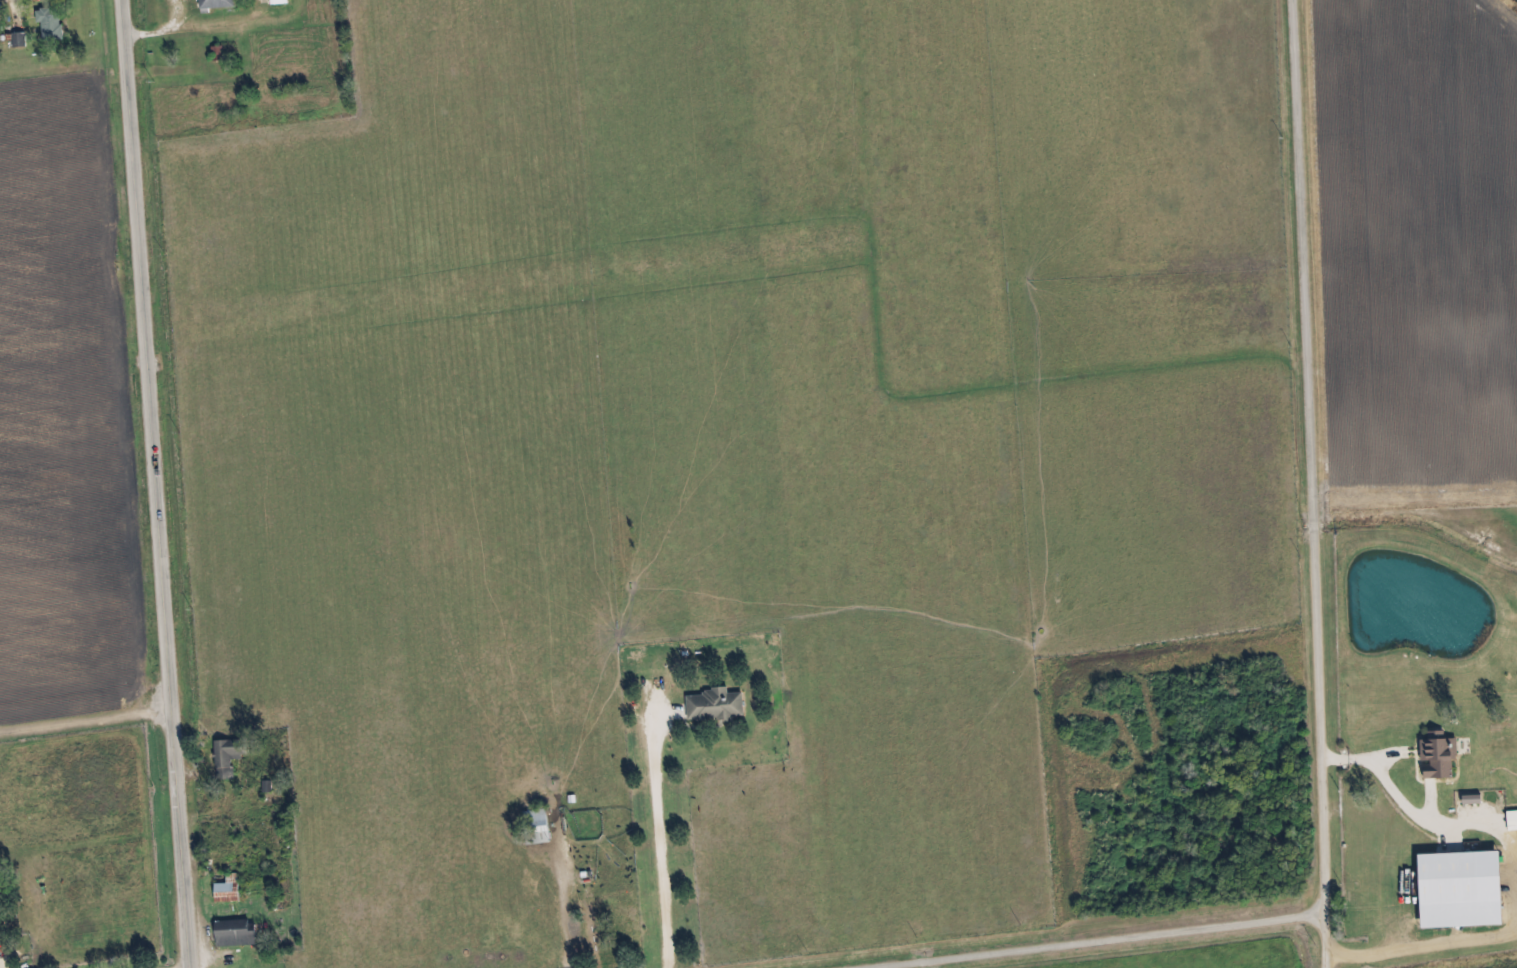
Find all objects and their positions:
building: (280, 3)
building: (219, 4)
building: (52, 25)
building: (21, 41)
road: (1302, 453)
road: (155, 484)
building: (715, 707)
building: (1440, 757)
building: (229, 759)
building: (1474, 800)
building: (1513, 822)
building: (540, 828)
building: (1463, 891)
building: (228, 893)
building: (237, 935)
road: (1081, 937)
road: (1318, 937)
building: (0, 942)

